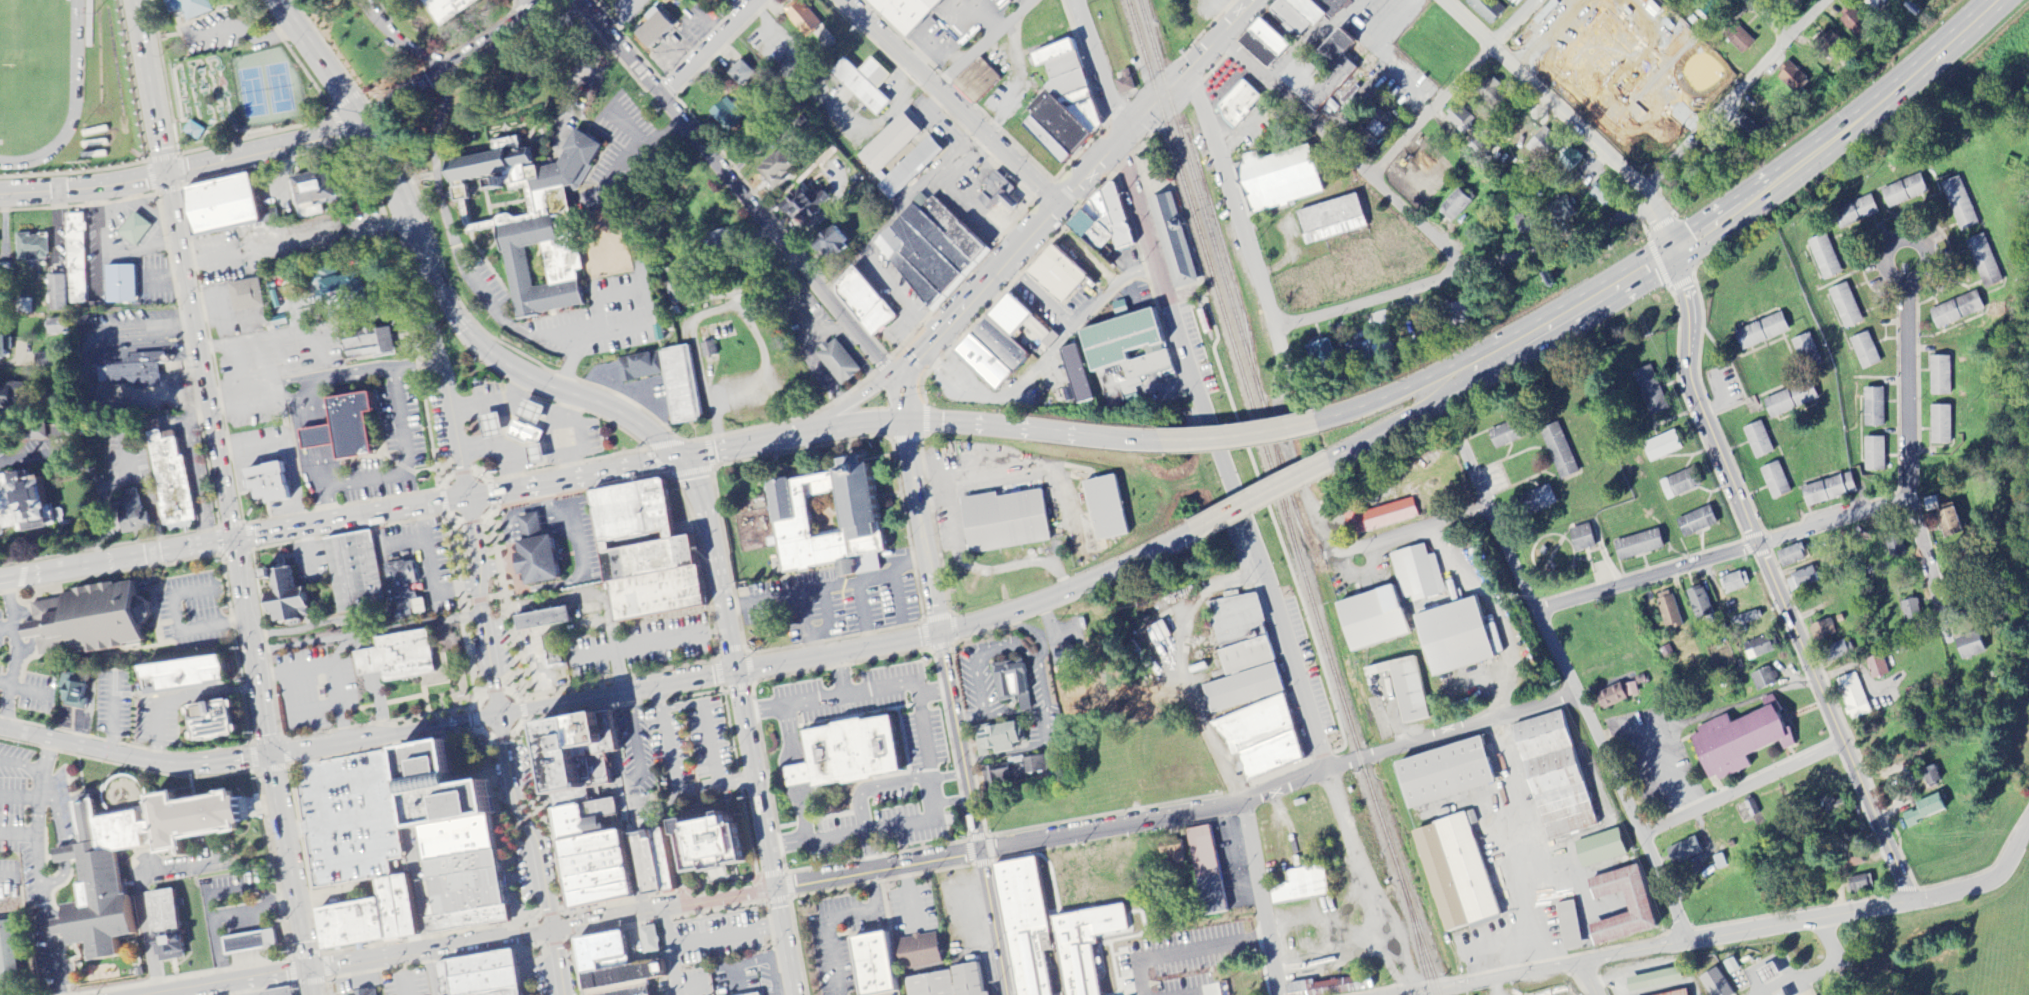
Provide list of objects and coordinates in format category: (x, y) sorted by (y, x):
building: (1871, 4)
road: (531, 5)
building: (189, 7)
building: (444, 10)
building: (1484, 10)
building: (908, 13)
building: (805, 18)
road: (1768, 21)
building: (1853, 23)
building: (1288, 26)
railway: (1156, 29)
building: (659, 30)
park: (29, 32)
building: (1737, 39)
road: (399, 40)
road: (986, 43)
building: (1829, 43)
road: (710, 47)
track: (73, 49)
road: (456, 62)
building: (1322, 70)
road: (572, 75)
building: (744, 75)
road: (1105, 78)
building: (1792, 79)
building: (978, 82)
building: (1125, 82)
building: (868, 84)
road: (1454, 88)
park: (268, 89)
building: (1489, 92)
road: (952, 101)
building: (1062, 104)
building: (1239, 105)
road: (355, 114)
building: (731, 115)
road: (1568, 118)
building: (1458, 120)
traffic signals: (363, 125)
building: (1374, 130)
building: (1746, 131)
building: (889, 141)
road: (641, 142)
road: (1348, 155)
building: (1565, 158)
building: (910, 166)
road: (182, 169)
building: (779, 169)
road: (73, 171)
traffic signals: (165, 174)
road: (151, 177)
building: (1278, 179)
building: (331, 186)
road: (1074, 190)
building: (1903, 191)
building: (1001, 194)
building: (1603, 195)
road: (1233, 197)
building: (807, 202)
road: (1744, 203)
road: (78, 204)
building: (1958, 204)
building: (230, 206)
building: (1455, 206)
road: (755, 207)
road: (612, 208)
building: (1562, 209)
building: (1854, 213)
road: (100, 220)
building: (1329, 220)
building: (540, 221)
building: (1105, 221)
building: (1523, 224)
road: (882, 228)
building: (138, 231)
road: (1595, 236)
road: (1910, 237)
building: (725, 239)
road: (451, 240)
building: (1173, 240)
building: (839, 243)
railway: (1223, 243)
building: (931, 247)
building: (34, 248)
road: (1152, 248)
road: (139, 250)
traffic signals: (1677, 251)
building: (1823, 257)
building: (1983, 261)
building: (72, 268)
building: (1058, 274)
railway: (1224, 274)
building: (123, 285)
building: (325, 286)
road: (1109, 287)
building: (248, 296)
road: (1036, 296)
building: (864, 300)
building: (1844, 306)
building: (1455, 313)
building: (1946, 314)
road: (648, 317)
building: (1202, 320)
building: (1022, 321)
road: (309, 324)
building: (60, 328)
building: (1760, 332)
building: (373, 344)
building: (6, 349)
building: (710, 350)
building: (992, 350)
building: (1806, 351)
building: (1864, 351)
building: (1128, 355)
building: (1320, 357)
building: (838, 359)
building: (49, 361)
road: (413, 363)
building: (642, 368)
road: (347, 374)
building: (1081, 375)
building: (1939, 376)
road: (530, 378)
building: (680, 382)
road: (239, 386)
road: (275, 389)
building: (1649, 390)
road: (258, 393)
road: (1002, 394)
road: (1906, 394)
building: (10, 396)
road: (1391, 398)
road: (1722, 399)
building: (1789, 400)
road: (308, 404)
road: (846, 406)
building: (1872, 408)
building: (537, 413)
road: (1396, 418)
traffic signals: (907, 420)
road: (853, 424)
building: (1940, 425)
building: (497, 427)
road: (996, 427)
building: (349, 429)
building: (529, 434)
road: (314, 435)
building: (1503, 435)
road: (1237, 436)
road: (1121, 440)
building: (1757, 440)
building: (1661, 447)
building: (1558, 451)
traffic signals: (696, 453)
building: (1873, 454)
road: (635, 464)
road: (317, 467)
road: (394, 474)
building: (1774, 481)
building: (173, 482)
building: (275, 484)
building: (1677, 485)
building: (1828, 490)
traffic signals: (470, 496)
road: (1257, 496)
road: (223, 497)
railway: (1279, 498)
building: (1535, 501)
building: (29, 503)
building: (1931, 504)
building: (1110, 509)
building: (141, 512)
building: (630, 512)
building: (858, 513)
building: (1379, 517)
road: (351, 518)
building: (1010, 522)
building: (1695, 522)
building: (1949, 523)
road: (1407, 533)
parking lot: (430, 539)
building: (1580, 539)
traffic signals: (232, 541)
building: (1637, 545)
road: (200, 546)
building: (1894, 547)
road: (1258, 554)
road: (1721, 555)
building: (1790, 556)
building: (539, 559)
road: (84, 566)
road: (1928, 567)
building: (354, 572)
railway: (1321, 573)
building: (1416, 574)
building: (652, 579)
building: (1800, 580)
building: (1734, 582)
road: (1068, 586)
road: (1776, 586)
building: (400, 588)
building: (283, 595)
building: (1698, 604)
road: (462, 611)
building: (1667, 611)
building: (1910, 611)
road: (491, 619)
building: (544, 619)
building: (1370, 619)
building: (1745, 619)
building: (94, 620)
road: (7, 628)
building: (1821, 631)
parking lot: (665, 634)
traffic signals: (945, 635)
building: (1451, 638)
building: (1968, 646)
building: (554, 648)
building: (1758, 648)
building: (1835, 651)
road: (15, 654)
building: (406, 655)
building: (1240, 655)
road: (1849, 661)
building: (1876, 667)
traffic signals: (736, 670)
road: (725, 671)
building: (195, 674)
building: (1761, 679)
road: (5, 682)
building: (1016, 684)
parking lot: (313, 688)
road: (867, 689)
building: (1403, 689)
road: (1571, 690)
building: (76, 691)
road: (492, 691)
road: (30, 692)
building: (1615, 695)
building: (1852, 697)
road: (793, 702)
road: (957, 707)
traffic signals: (507, 712)
road: (475, 719)
road: (922, 720)
building: (223, 723)
road: (745, 723)
road: (388, 733)
road: (788, 733)
building: (1003, 739)
building: (1259, 739)
building: (1738, 741)
road: (613, 746)
road: (1408, 747)
parking lot: (671, 749)
parking lot: (672, 750)
building: (854, 750)
building: (578, 753)
traffic signals: (270, 755)
road: (134, 758)
parking lot: (1655, 759)
road: (22, 764)
building: (1014, 773)
building: (1442, 774)
road: (797, 775)
road: (947, 776)
building: (1553, 776)
building: (1930, 776)
building: (803, 777)
road: (673, 778)
building: (439, 785)
road: (872, 787)
road: (1742, 788)
building: (586, 796)
road: (952, 801)
road: (39, 804)
road: (802, 804)
building: (1831, 806)
road: (1892, 809)
building: (1923, 811)
building: (1753, 812)
road: (58, 814)
building: (190, 818)
parking lot: (347, 819)
building: (590, 819)
road: (499, 821)
road: (919, 822)
road: (749, 833)
road: (833, 835)
building: (454, 837)
road: (793, 839)
building: (710, 842)
road: (403, 844)
building: (592, 844)
road: (668, 846)
building: (1598, 849)
traffic signals: (982, 850)
road: (872, 851)
building: (1682, 852)
road: (961, 853)
building: (1170, 853)
road: (65, 854)
building: (660, 860)
road: (38, 861)
building: (595, 862)
building: (1849, 862)
building: (644, 863)
building: (458, 864)
building: (1205, 871)
building: (1454, 873)
building: (104, 874)
road: (772, 875)
road: (7, 879)
building: (598, 879)
road: (1997, 879)
road: (59, 880)
road: (790, 883)
road: (724, 884)
road: (1371, 884)
building: (1858, 885)
traffic signals: (775, 886)
building: (1299, 886)
building: (463, 891)
road: (206, 892)
road: (139, 893)
building: (601, 895)
road: (767, 899)
road: (1261, 899)
building: (393, 906)
road: (671, 906)
building: (1637, 908)
road: (240, 912)
road: (831, 916)
building: (463, 918)
road: (607, 918)
road: (1312, 918)
building: (350, 923)
building: (165, 925)
building: (1023, 925)
road: (666, 926)
building: (1567, 926)
traffic signals: (552, 930)
road: (725, 935)
parking lot: (720, 936)
building: (651, 939)
road: (50, 941)
building: (254, 943)
road: (1675, 944)
railway: (1419, 945)
building: (1083, 946)
building: (923, 951)
building: (603, 952)
road: (1188, 953)
road: (1337, 957)
building: (10, 958)
road: (351, 962)
road: (779, 962)
building: (481, 963)
building: (869, 964)
traffic signals: (304, 969)
road: (672, 969)
road: (1817, 971)
road: (426, 974)
building: (624, 975)
building: (1766, 975)
building: (443, 977)
building: (975, 980)
road: (1586, 980)
building: (484, 981)
road: (774, 981)
building: (1652, 981)
building: (1714, 984)
building: (934, 985)
building: (1338, 985)
building: (621, 988)
road: (181, 992)
building: (280, 992)
building: (500, 992)
building: (635, 992)
building: (368, 993)
building: (1678, 993)
building: (755, 994)
building: (761, 994)

